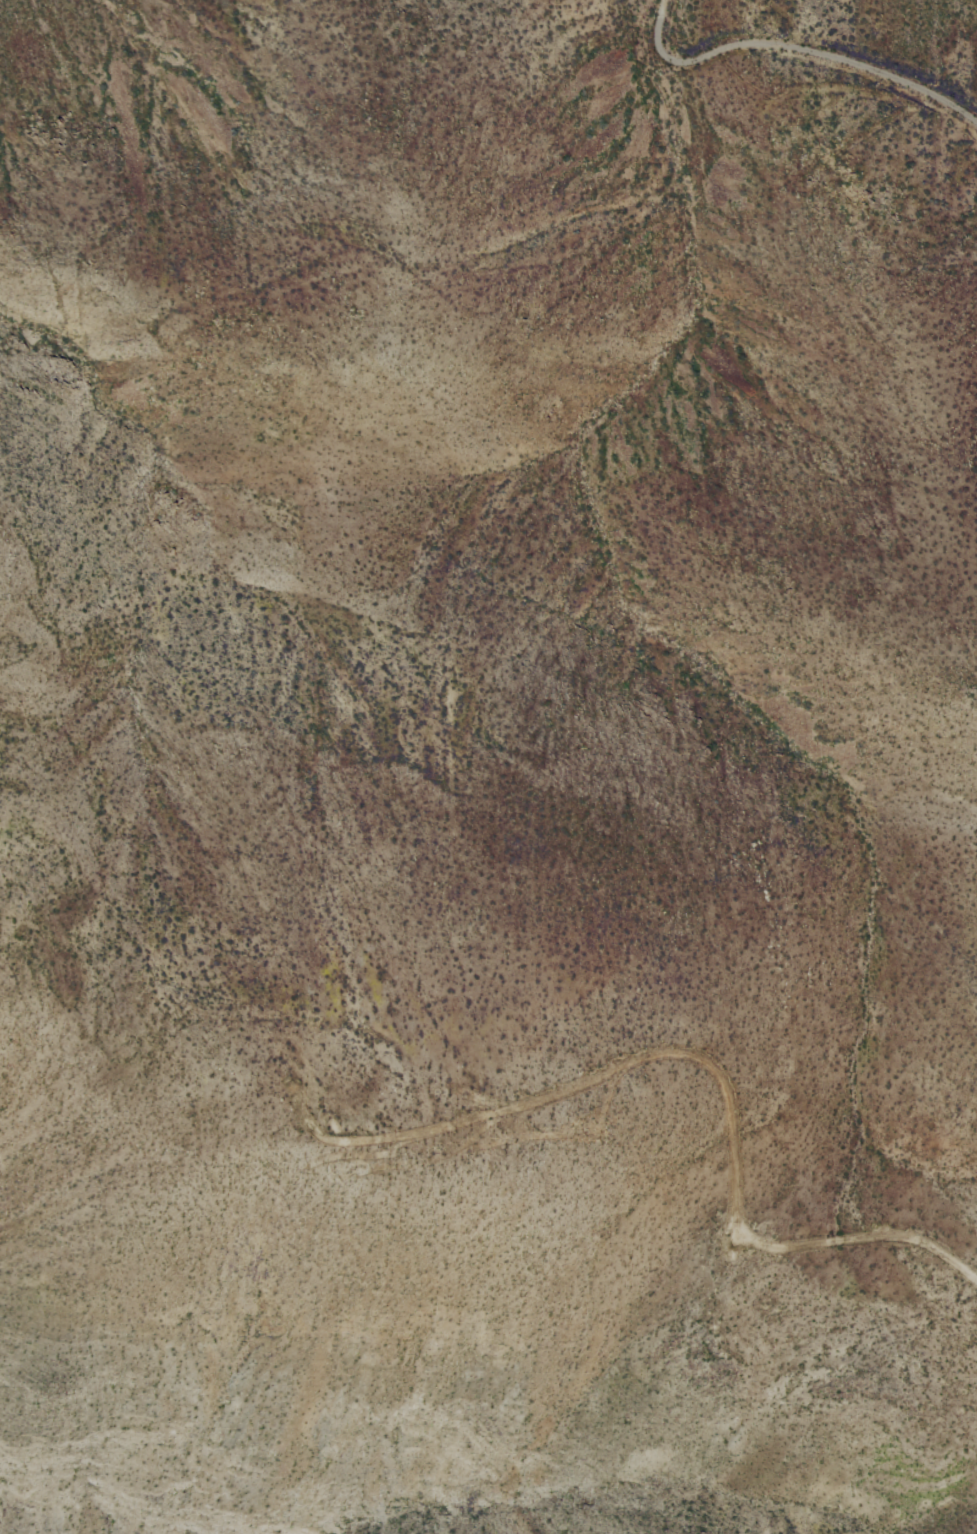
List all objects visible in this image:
road: (796, 49)

